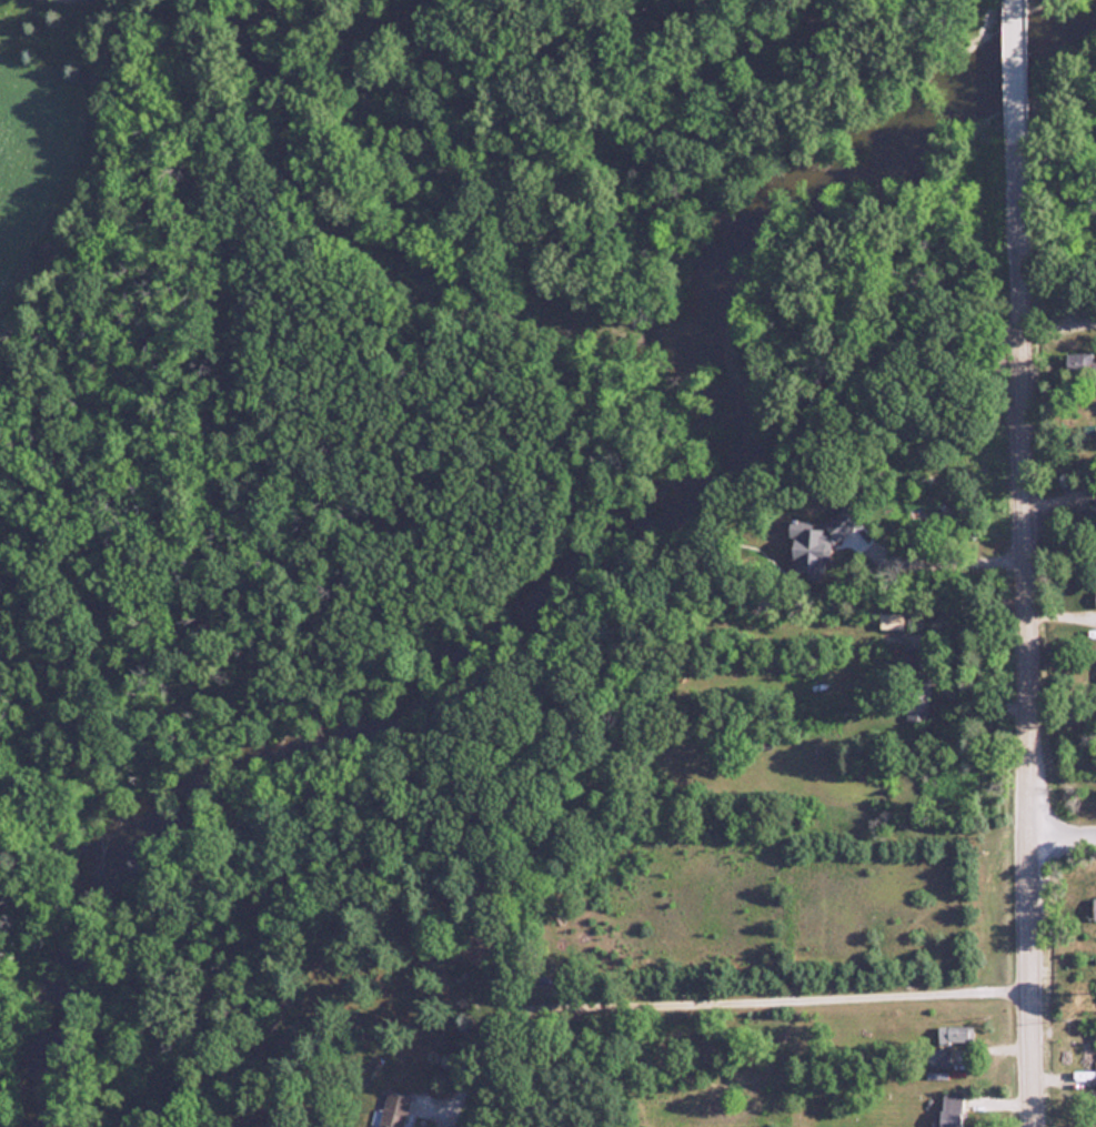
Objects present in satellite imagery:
road: (1014, 68)
park: (1056, 110)
road: (69, 164)
building: (1084, 359)
river: (590, 566)
building: (892, 621)
road: (1026, 631)
road: (928, 650)
building: (916, 698)
road: (1063, 829)
road: (716, 1004)
building: (955, 1035)
building: (938, 1058)
building: (400, 1110)
building: (952, 1110)

